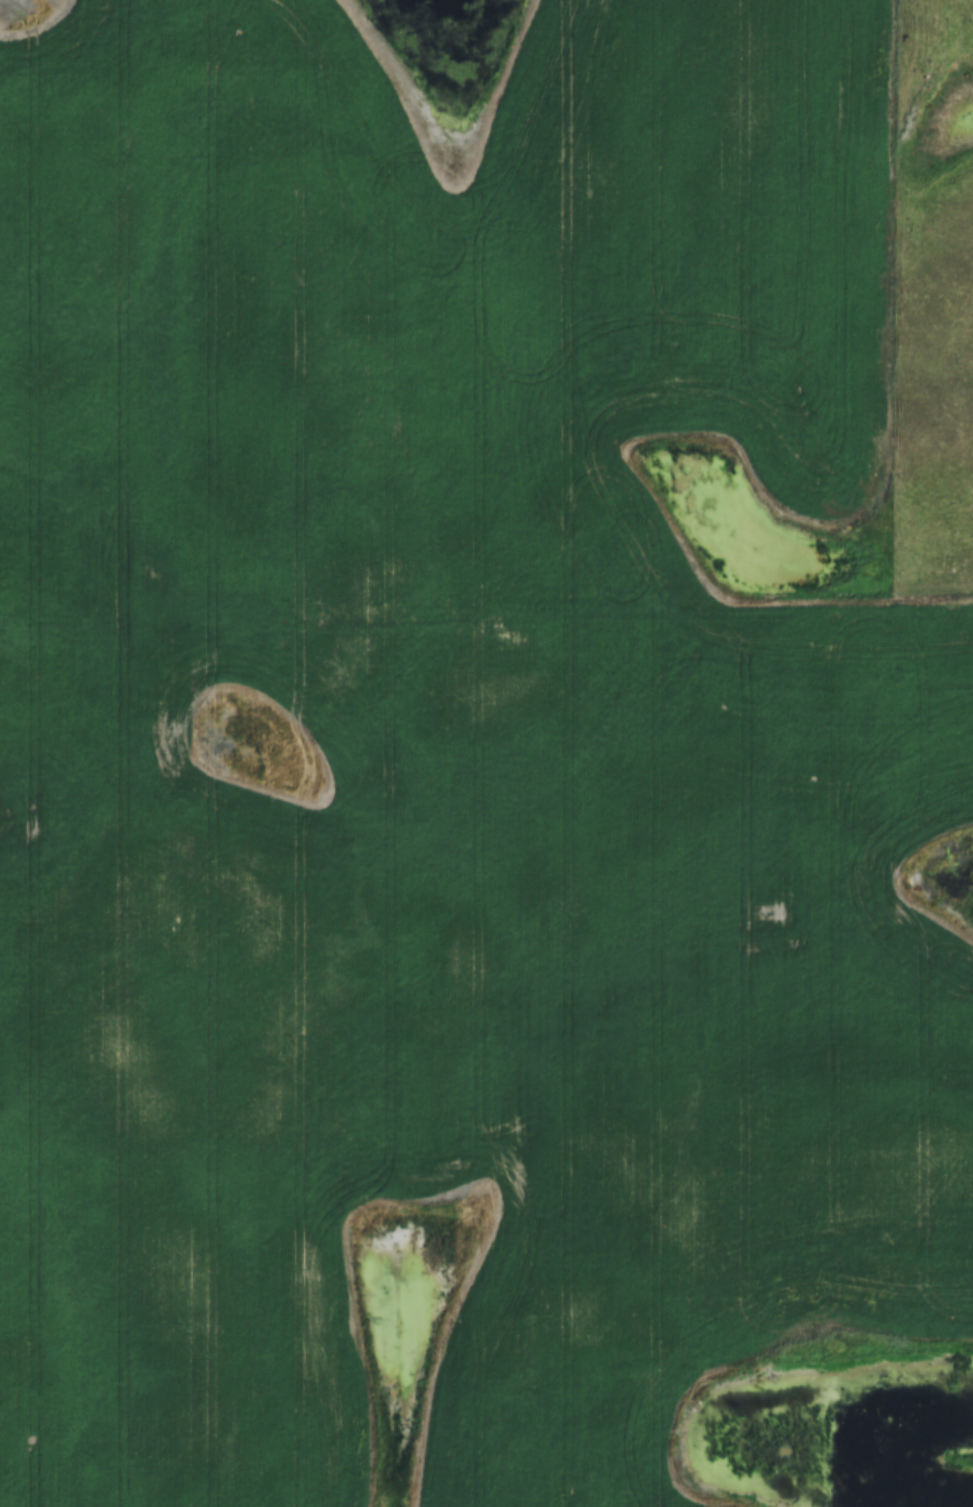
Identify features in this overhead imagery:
building: (549, 1445)

